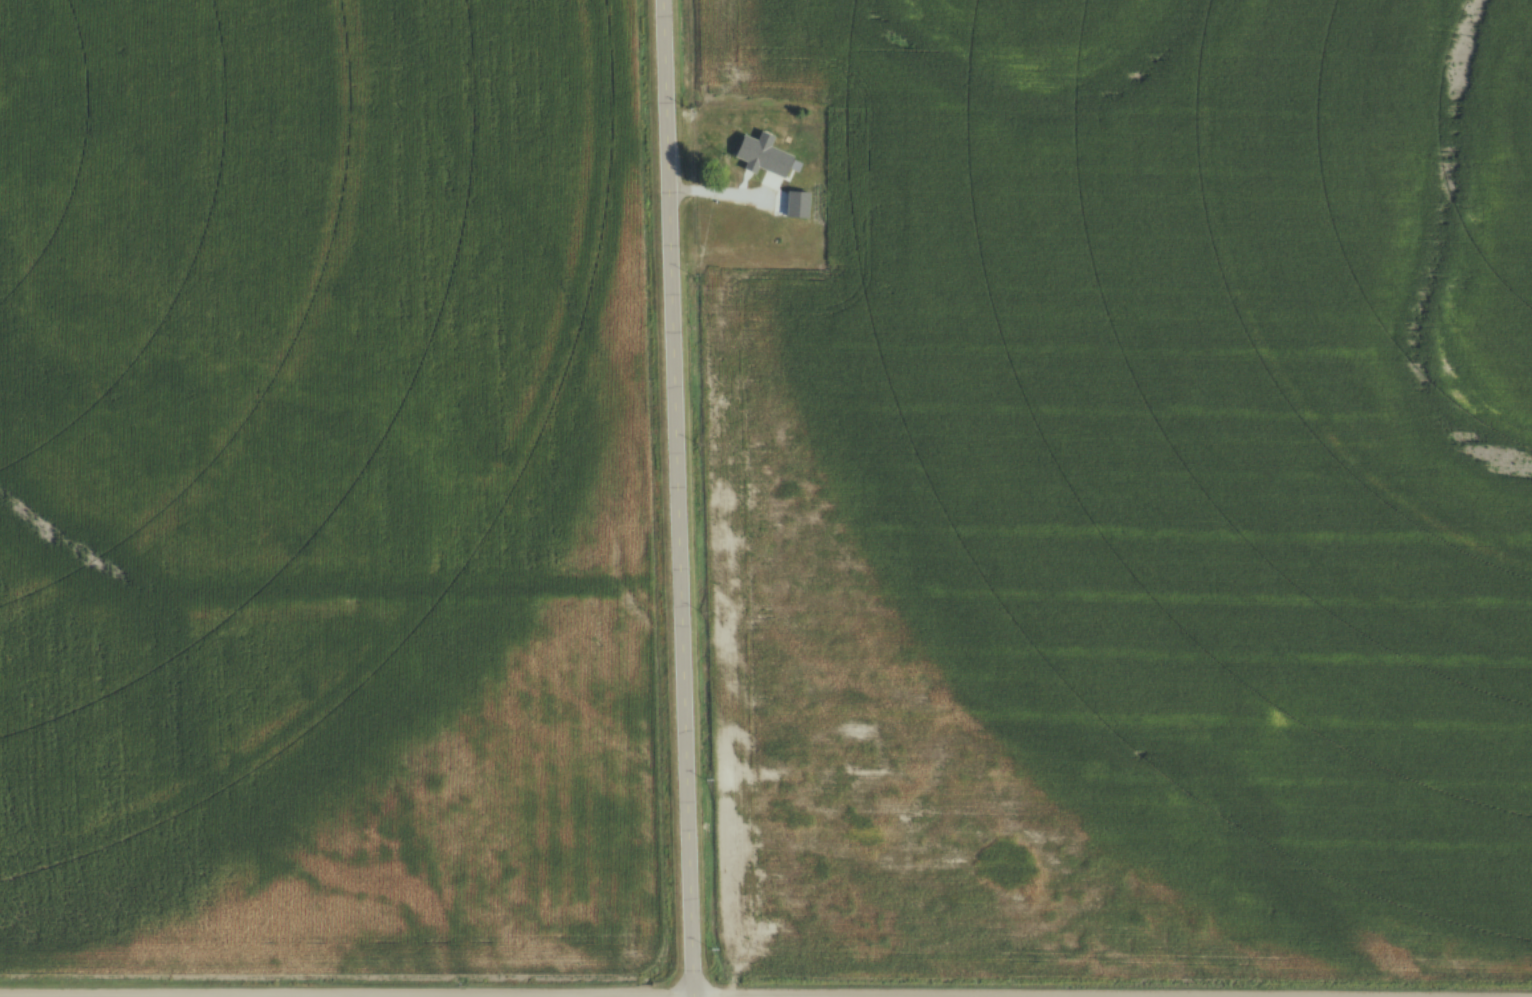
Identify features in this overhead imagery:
building: (763, 157)
road: (676, 498)

